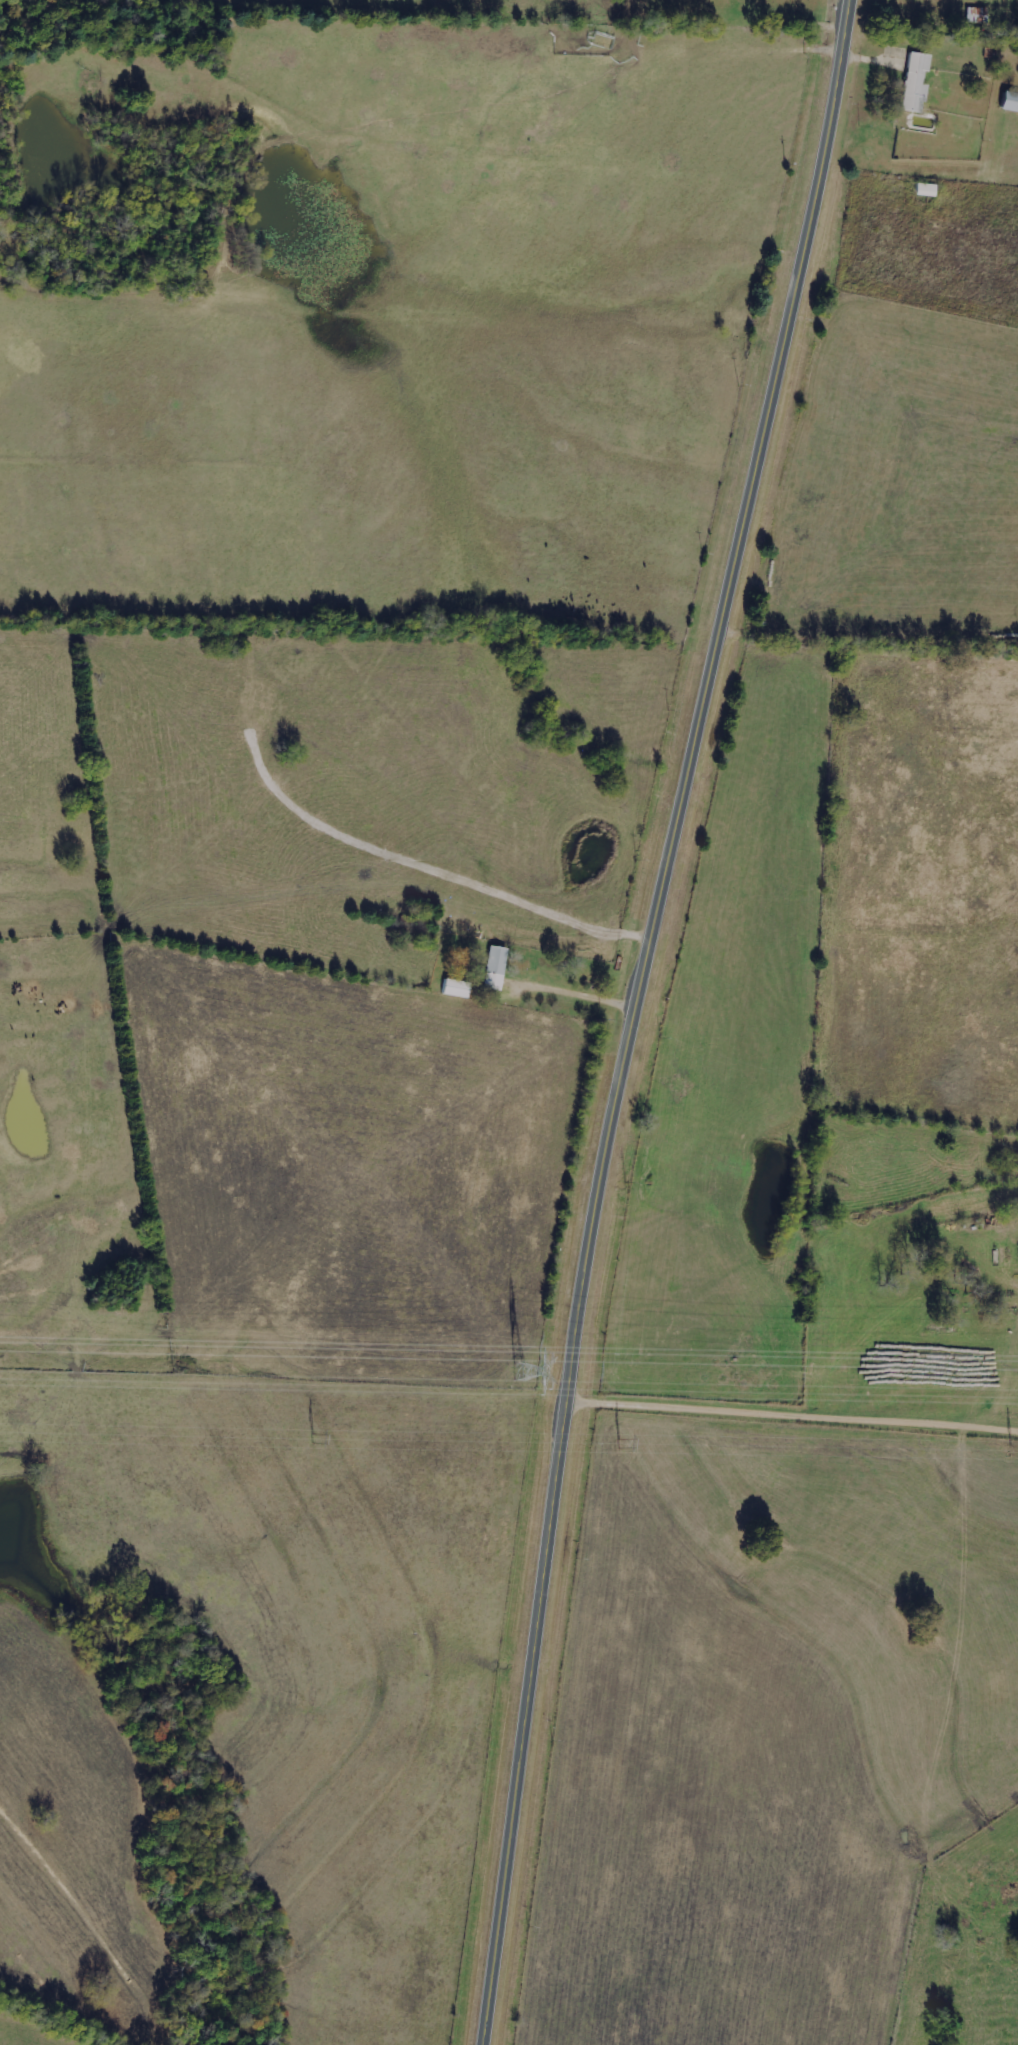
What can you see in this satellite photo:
building: (975, 15)
building: (914, 84)
building: (1009, 102)
building: (494, 968)
road: (635, 1016)
power tower: (524, 1375)
road: (792, 1416)

